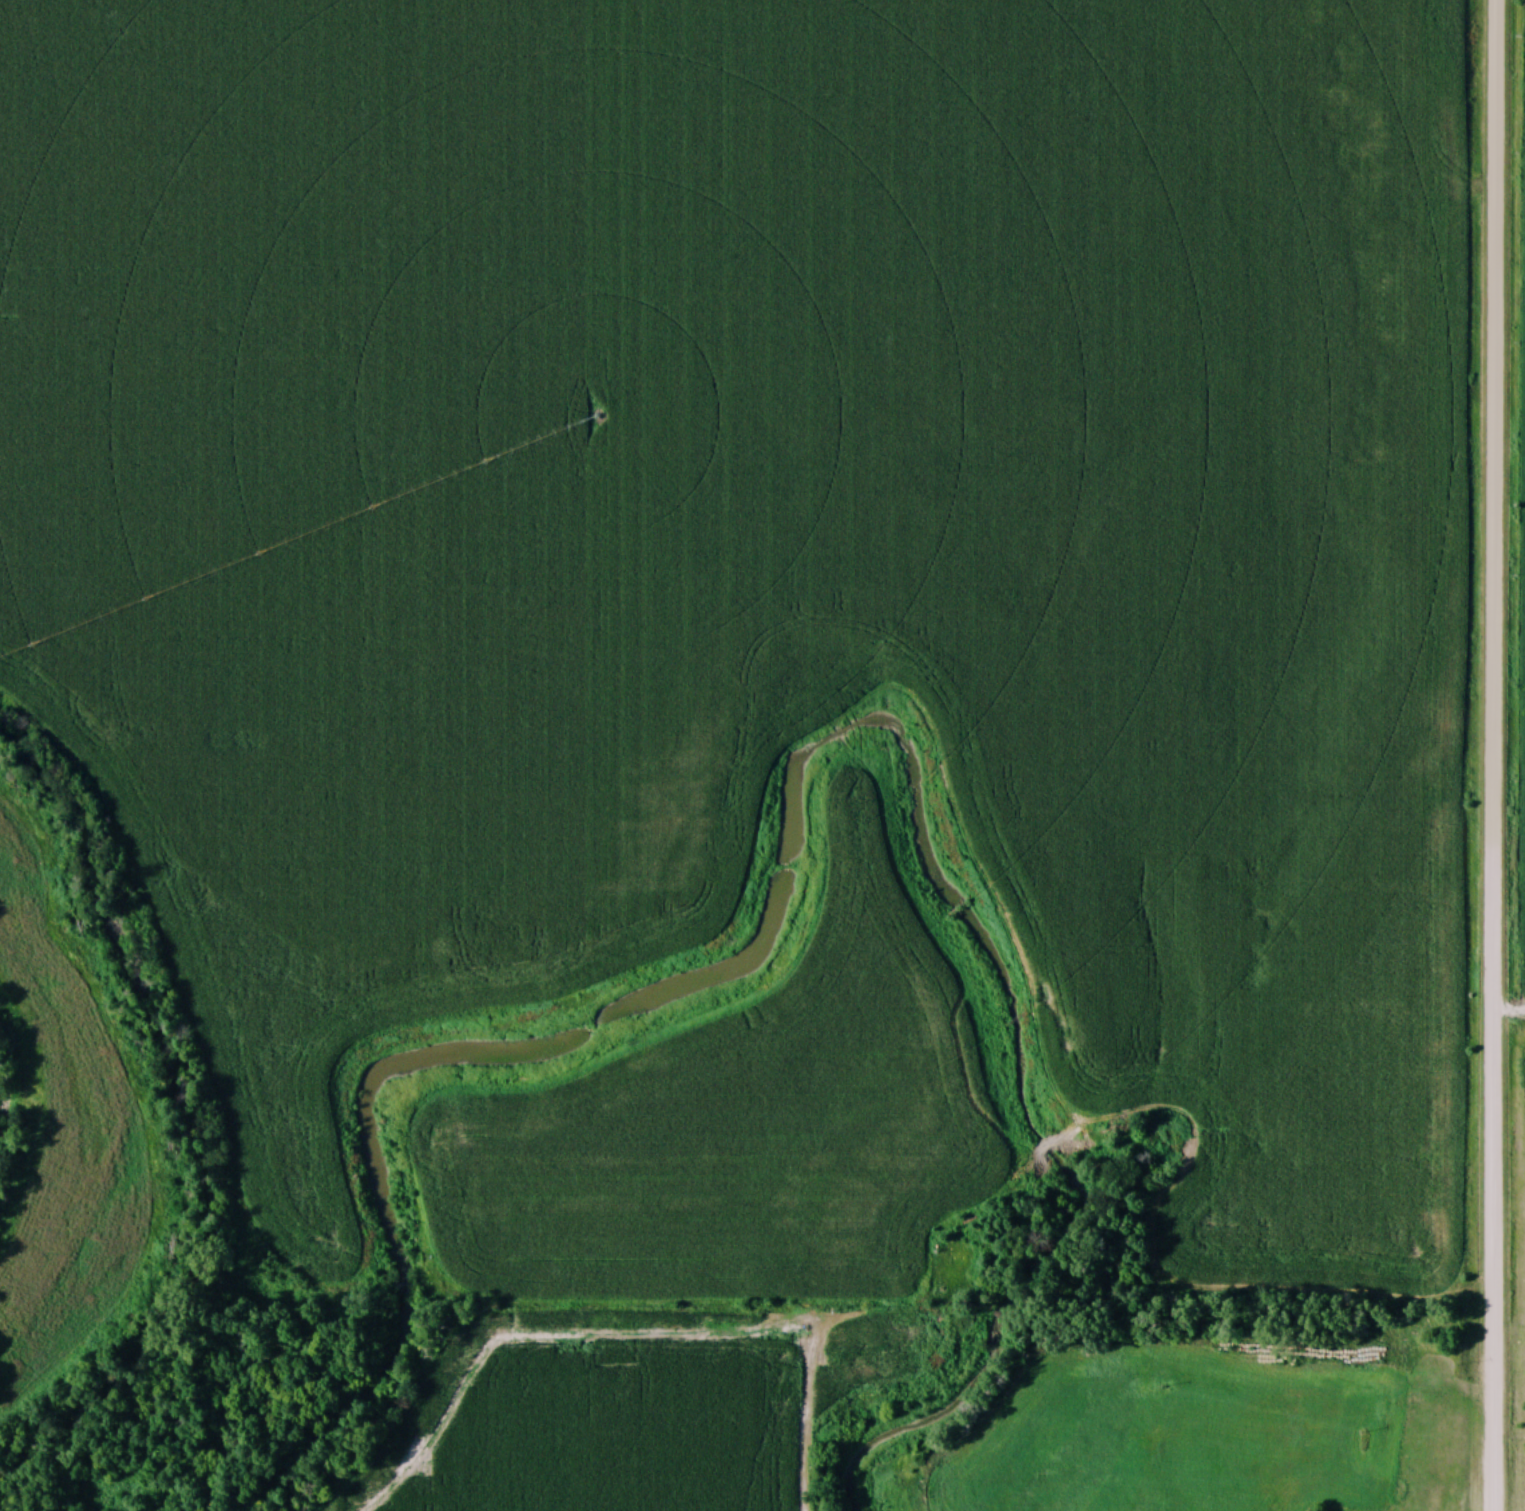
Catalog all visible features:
road: (1498, 755)

